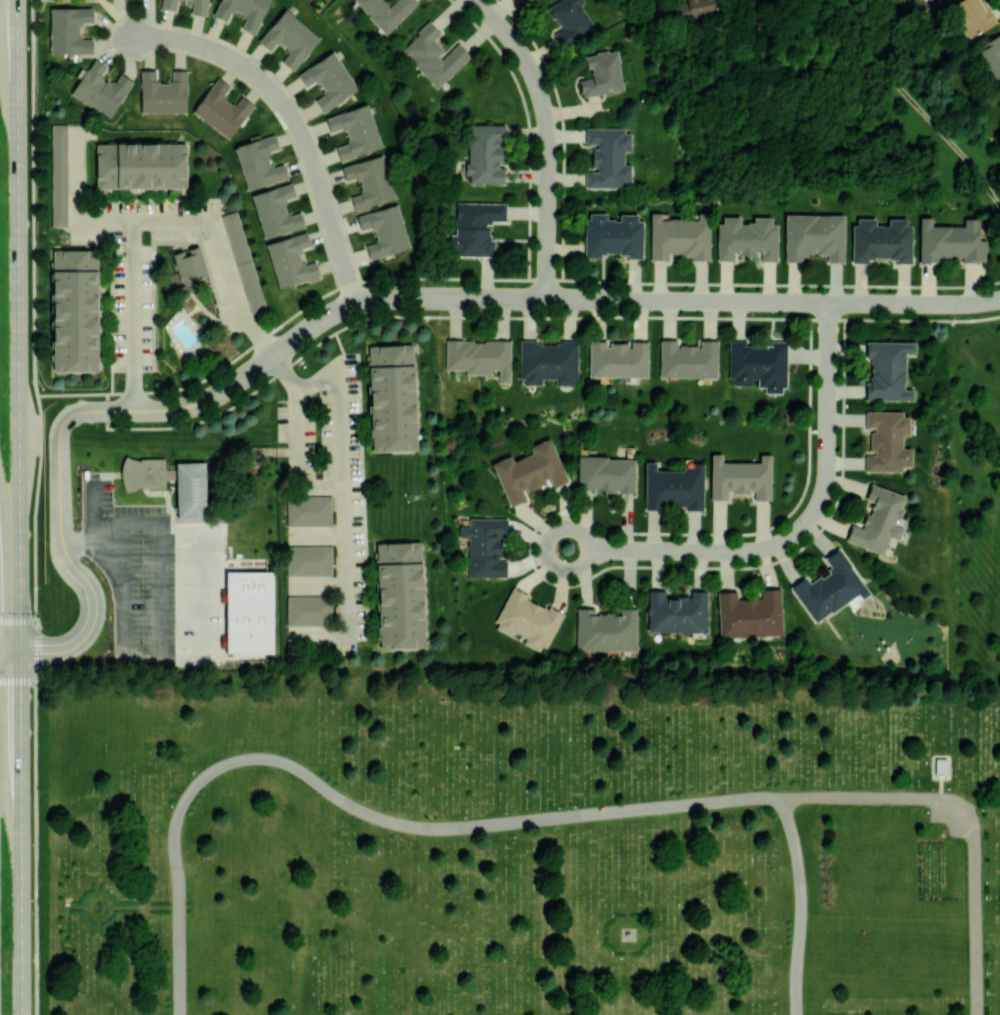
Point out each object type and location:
building: (169, 4)
building: (199, 7)
building: (695, 10)
building: (243, 11)
building: (386, 11)
building: (973, 16)
building: (570, 21)
building: (69, 30)
building: (289, 38)
building: (433, 55)
building: (990, 58)
building: (602, 74)
building: (328, 80)
building: (101, 88)
building: (163, 92)
building: (221, 109)
road: (297, 118)
building: (355, 131)
road: (549, 137)
building: (485, 153)
building: (608, 157)
building: (259, 162)
building: (140, 165)
building: (59, 175)
building: (369, 181)
road: (33, 198)
building: (276, 211)
building: (475, 227)
building: (384, 231)
building: (613, 235)
building: (680, 237)
building: (814, 237)
building: (746, 238)
building: (881, 240)
building: (951, 241)
building: (290, 260)
building: (243, 261)
building: (189, 264)
road: (227, 269)
road: (503, 277)
road: (358, 301)
building: (74, 310)
road: (130, 315)
road: (19, 326)
building: (479, 356)
building: (618, 358)
building: (688, 359)
building: (548, 362)
building: (758, 365)
building: (887, 370)
building: (392, 398)
building: (887, 441)
building: (529, 471)
building: (143, 473)
building: (606, 474)
building: (740, 477)
road: (341, 483)
building: (673, 487)
building: (190, 489)
road: (35, 508)
building: (309, 511)
building: (878, 520)
road: (799, 533)
building: (485, 546)
building: (310, 560)
building: (830, 587)
building: (400, 595)
building: (309, 610)
building: (250, 611)
building: (677, 612)
building: (750, 614)
building: (527, 620)
road: (18, 621)
building: (606, 630)
road: (164, 647)
traffic signals: (21, 652)
road: (18, 680)
building: (940, 764)
road: (940, 786)
road: (356, 808)
road: (36, 817)
road: (966, 817)
parking lot: (951, 818)
road: (22, 833)
park: (521, 849)
road: (800, 904)

